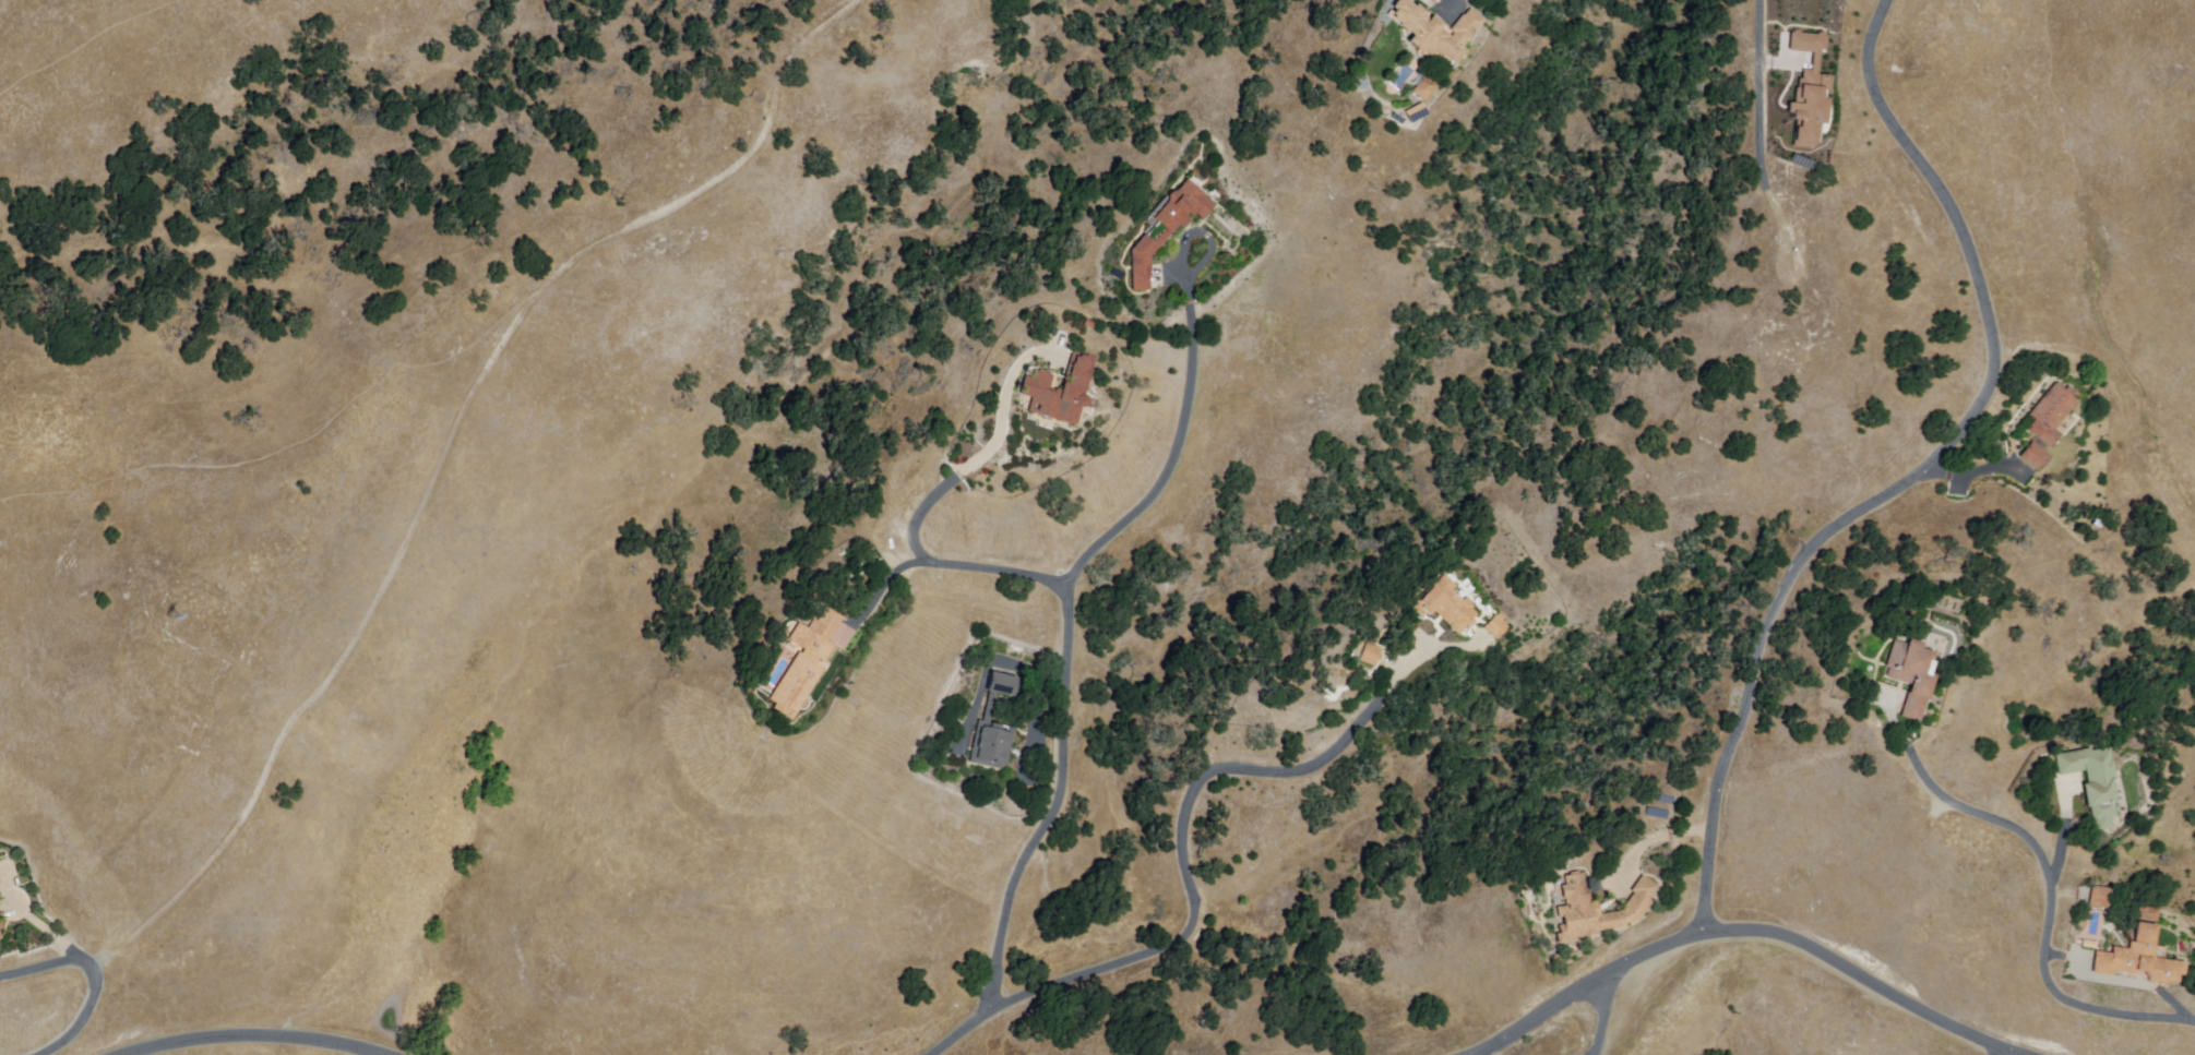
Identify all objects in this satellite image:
road: (1450, 1)
building: (1431, 33)
building: (1422, 91)
road: (1761, 93)
building: (1809, 94)
building: (1169, 230)
building: (1064, 391)
road: (1190, 392)
building: (2052, 415)
road: (986, 453)
road: (448, 454)
building: (2036, 458)
road: (1919, 475)
road: (955, 566)
building: (1447, 607)
power tower: (178, 619)
building: (1500, 627)
building: (1373, 655)
building: (808, 663)
building: (1909, 676)
building: (997, 729)
building: (2093, 782)
road: (1185, 823)
road: (1038, 838)
building: (0, 885)
building: (2100, 901)
road: (2050, 911)
building: (1600, 912)
building: (1, 926)
road: (1747, 933)
building: (0, 937)
building: (2140, 956)
road: (96, 974)
road: (1607, 1015)
road: (255, 1034)
road: (2001, 1052)

